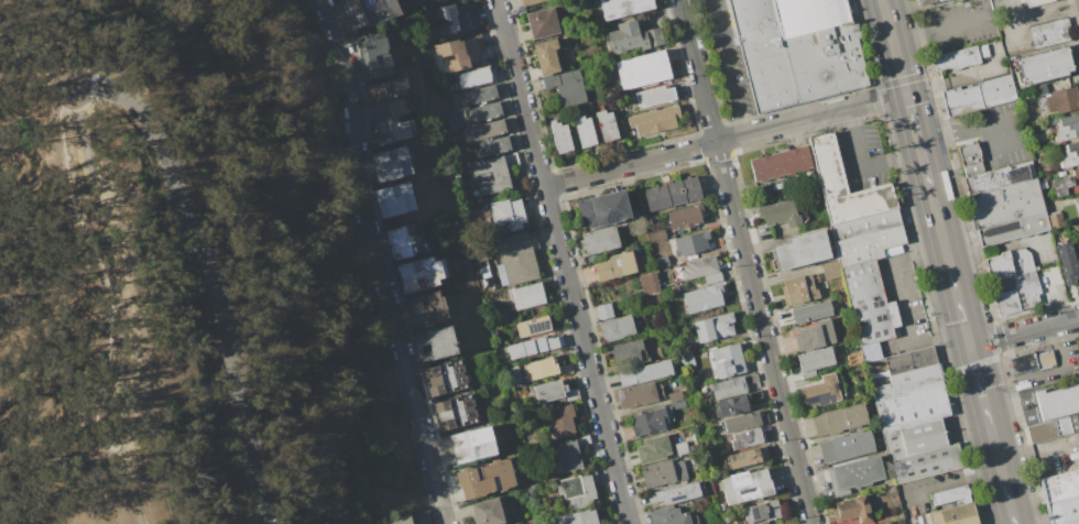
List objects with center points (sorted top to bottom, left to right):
building: (427, 0)
building: (528, 1)
building: (927, 2)
building: (1035, 3)
building: (357, 6)
building: (622, 7)
building: (372, 14)
building: (450, 21)
road: (889, 22)
building: (542, 23)
parking lot: (960, 25)
road: (949, 30)
building: (1051, 34)
building: (633, 37)
building: (797, 50)
building: (460, 52)
building: (373, 56)
building: (546, 56)
building: (958, 59)
road: (36, 62)
building: (1046, 65)
road: (724, 68)
road: (901, 69)
building: (643, 70)
road: (697, 72)
building: (475, 78)
building: (567, 88)
building: (1038, 89)
building: (385, 91)
building: (481, 95)
traffic signals: (907, 96)
building: (981, 96)
building: (655, 97)
building: (1060, 99)
road: (876, 101)
building: (390, 110)
building: (1028, 111)
building: (483, 112)
building: (656, 119)
road: (914, 120)
building: (607, 125)
building: (1066, 127)
building: (393, 131)
building: (483, 131)
building: (585, 131)
road: (962, 134)
parking lot: (998, 134)
building: (560, 137)
building: (492, 146)
road: (695, 148)
road: (920, 148)
building: (1071, 155)
building: (972, 161)
building: (391, 164)
building: (781, 165)
road: (863, 167)
building: (495, 173)
road: (927, 173)
building: (1001, 177)
building: (843, 184)
building: (1044, 184)
building: (1065, 184)
building: (687, 189)
building: (669, 194)
building: (653, 198)
building: (394, 199)
building: (1007, 204)
road: (935, 205)
building: (1078, 206)
building: (603, 209)
building: (780, 214)
building: (508, 215)
building: (685, 217)
building: (1057, 220)
building: (864, 223)
building: (1014, 230)
building: (658, 233)
building: (405, 240)
building: (600, 240)
building: (691, 243)
building: (868, 245)
building: (1078, 249)
building: (802, 250)
road: (994, 250)
building: (661, 254)
road: (96, 258)
building: (517, 258)
road: (380, 261)
road: (563, 262)
building: (1068, 262)
building: (1010, 264)
building: (615, 266)
building: (699, 268)
park: (185, 272)
building: (419, 273)
road: (214, 274)
building: (649, 282)
building: (798, 290)
building: (1017, 294)
building: (528, 296)
building: (704, 298)
road: (127, 303)
building: (869, 303)
road: (902, 303)
building: (426, 308)
building: (604, 312)
building: (811, 313)
building: (533, 327)
building: (713, 327)
building: (617, 328)
road: (1024, 331)
road: (764, 334)
building: (814, 336)
building: (435, 343)
building: (532, 347)
building: (624, 354)
building: (687, 360)
building: (728, 361)
building: (814, 361)
building: (1033, 361)
parking lot: (1053, 368)
building: (539, 369)
road: (977, 369)
building: (903, 371)
building: (645, 372)
road: (1047, 372)
building: (514, 375)
building: (446, 378)
building: (729, 387)
building: (549, 391)
building: (819, 392)
building: (640, 395)
building: (676, 396)
building: (1058, 402)
building: (453, 404)
building: (678, 404)
building: (912, 405)
building: (731, 407)
parking lot: (1028, 408)
building: (456, 418)
building: (562, 419)
building: (839, 419)
building: (650, 422)
building: (742, 422)
building: (1054, 429)
building: (745, 438)
building: (914, 438)
road: (116, 440)
building: (847, 446)
building: (468, 447)
building: (682, 448)
building: (653, 449)
building: (568, 456)
building: (746, 457)
building: (926, 463)
building: (657, 473)
building: (497, 474)
building: (854, 474)
building: (472, 483)
road: (958, 484)
building: (745, 485)
building: (577, 490)
building: (675, 493)
building: (1062, 496)
building: (722, 505)
building: (953, 507)
building: (854, 509)
building: (488, 512)
building: (762, 512)
building: (668, 516)
building: (422, 517)
building: (576, 517)
building: (926, 518)
building: (399, 520)
building: (321, 523)

